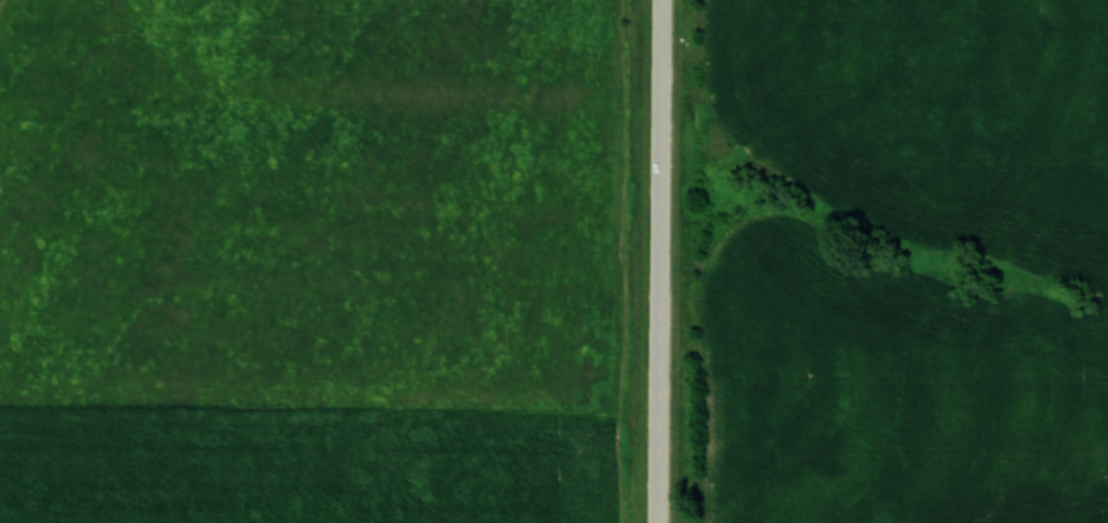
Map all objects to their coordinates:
road: (659, 49)
road: (657, 311)

